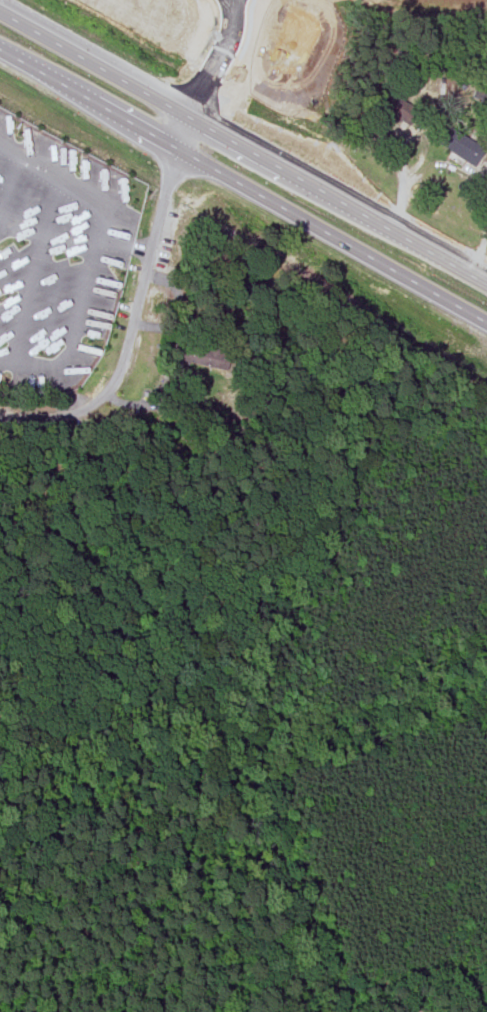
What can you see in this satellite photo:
road: (214, 76)
building: (396, 104)
road: (243, 143)
building: (462, 143)
road: (10, 146)
road: (400, 179)
road: (10, 181)
road: (244, 187)
road: (480, 249)
road: (88, 261)
road: (129, 327)
building: (203, 354)

